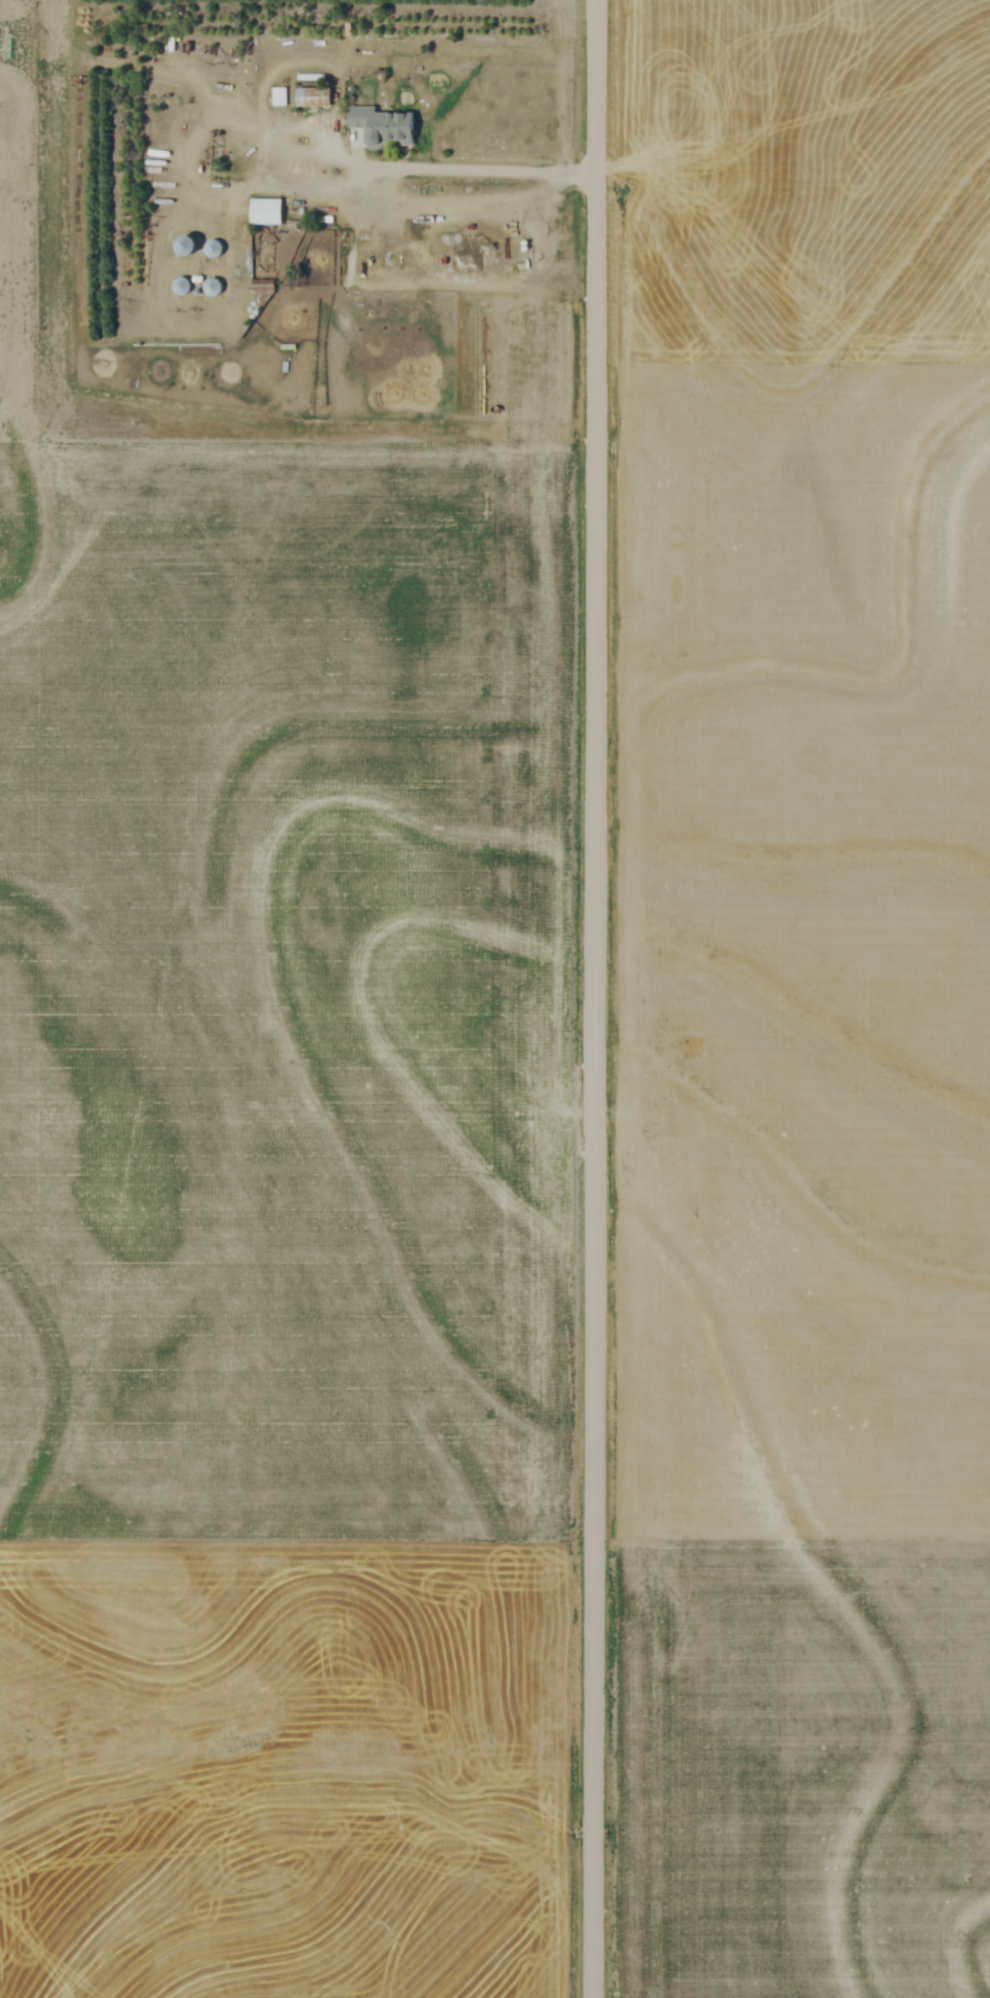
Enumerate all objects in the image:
building: (279, 94)
building: (314, 94)
building: (378, 117)
road: (444, 170)
building: (266, 209)
building: (187, 243)
building: (214, 248)
building: (197, 250)
silo: (197, 250)
building: (224, 251)
silo: (224, 251)
building: (181, 284)
building: (262, 284)
building: (212, 285)
building: (192, 287)
silo: (192, 287)
building: (223, 289)
silo: (223, 289)
road: (598, 998)

